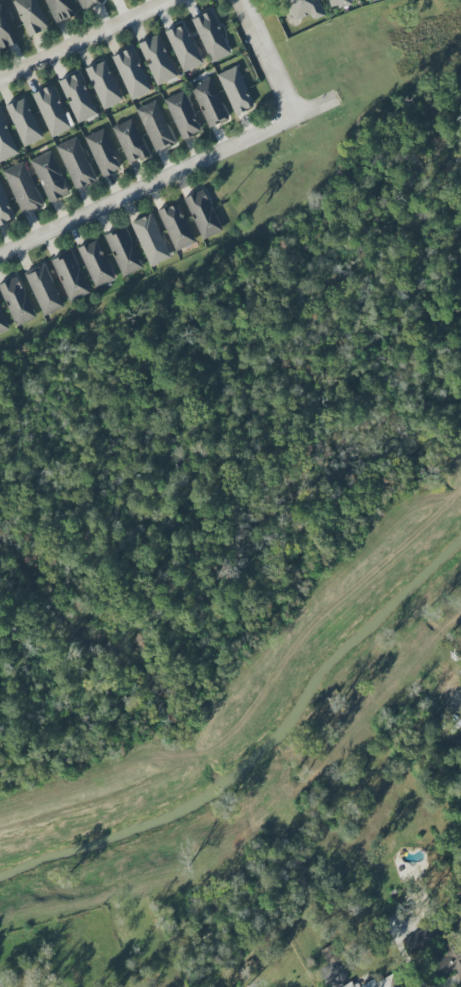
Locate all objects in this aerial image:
building: (88, 3)
building: (337, 3)
building: (303, 9)
building: (59, 10)
building: (30, 16)
building: (5, 31)
building: (210, 36)
road: (84, 38)
building: (183, 48)
road: (267, 58)
building: (156, 60)
building: (130, 74)
building: (103, 85)
building: (235, 91)
building: (77, 97)
building: (208, 102)
building: (51, 110)
building: (182, 115)
building: (23, 122)
building: (155, 125)
building: (129, 141)
building: (6, 142)
building: (102, 152)
building: (75, 163)
building: (49, 176)
road: (166, 176)
building: (22, 188)
building: (4, 209)
building: (202, 214)
building: (175, 227)
building: (149, 240)
building: (122, 251)
building: (95, 264)
building: (69, 276)
building: (43, 290)
building: (16, 301)
building: (2, 325)
river: (260, 753)
building: (415, 943)
building: (329, 954)
building: (449, 962)
building: (382, 983)
building: (348, 985)

